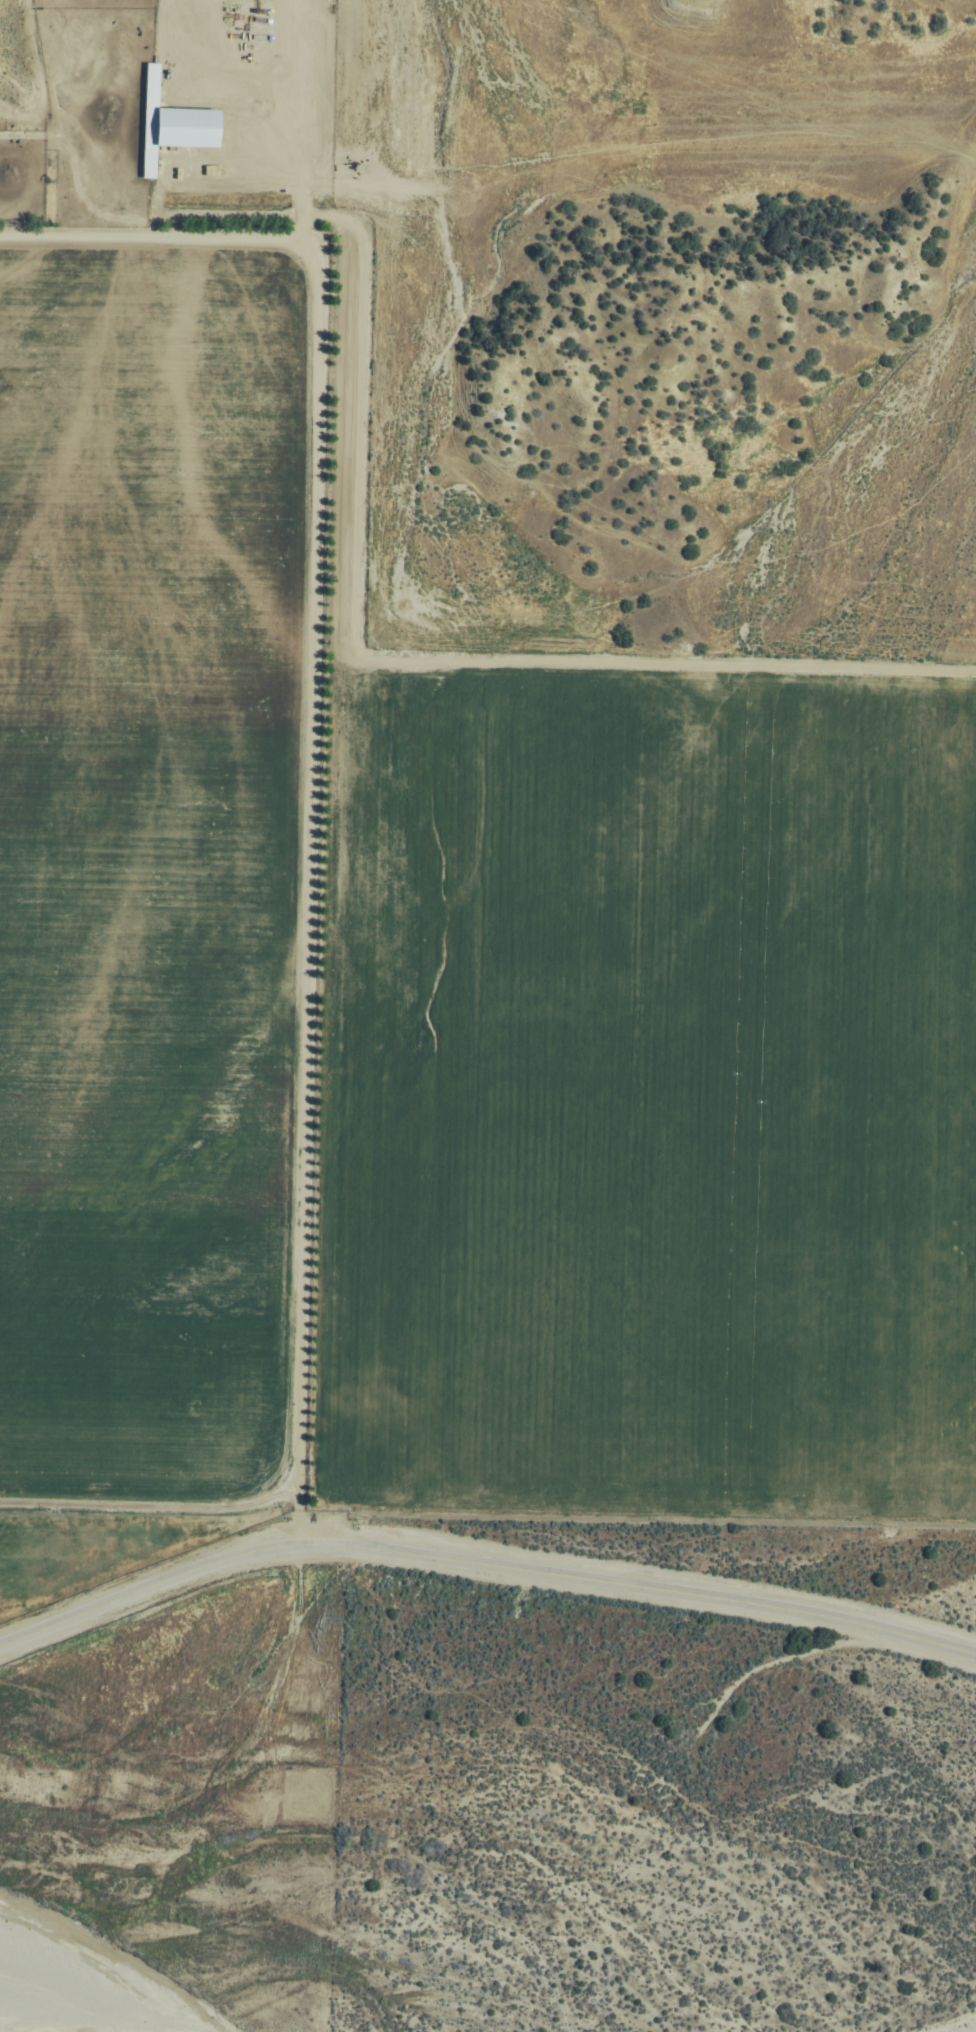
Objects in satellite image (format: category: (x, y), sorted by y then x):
road: (316, 747)
road: (482, 1570)

